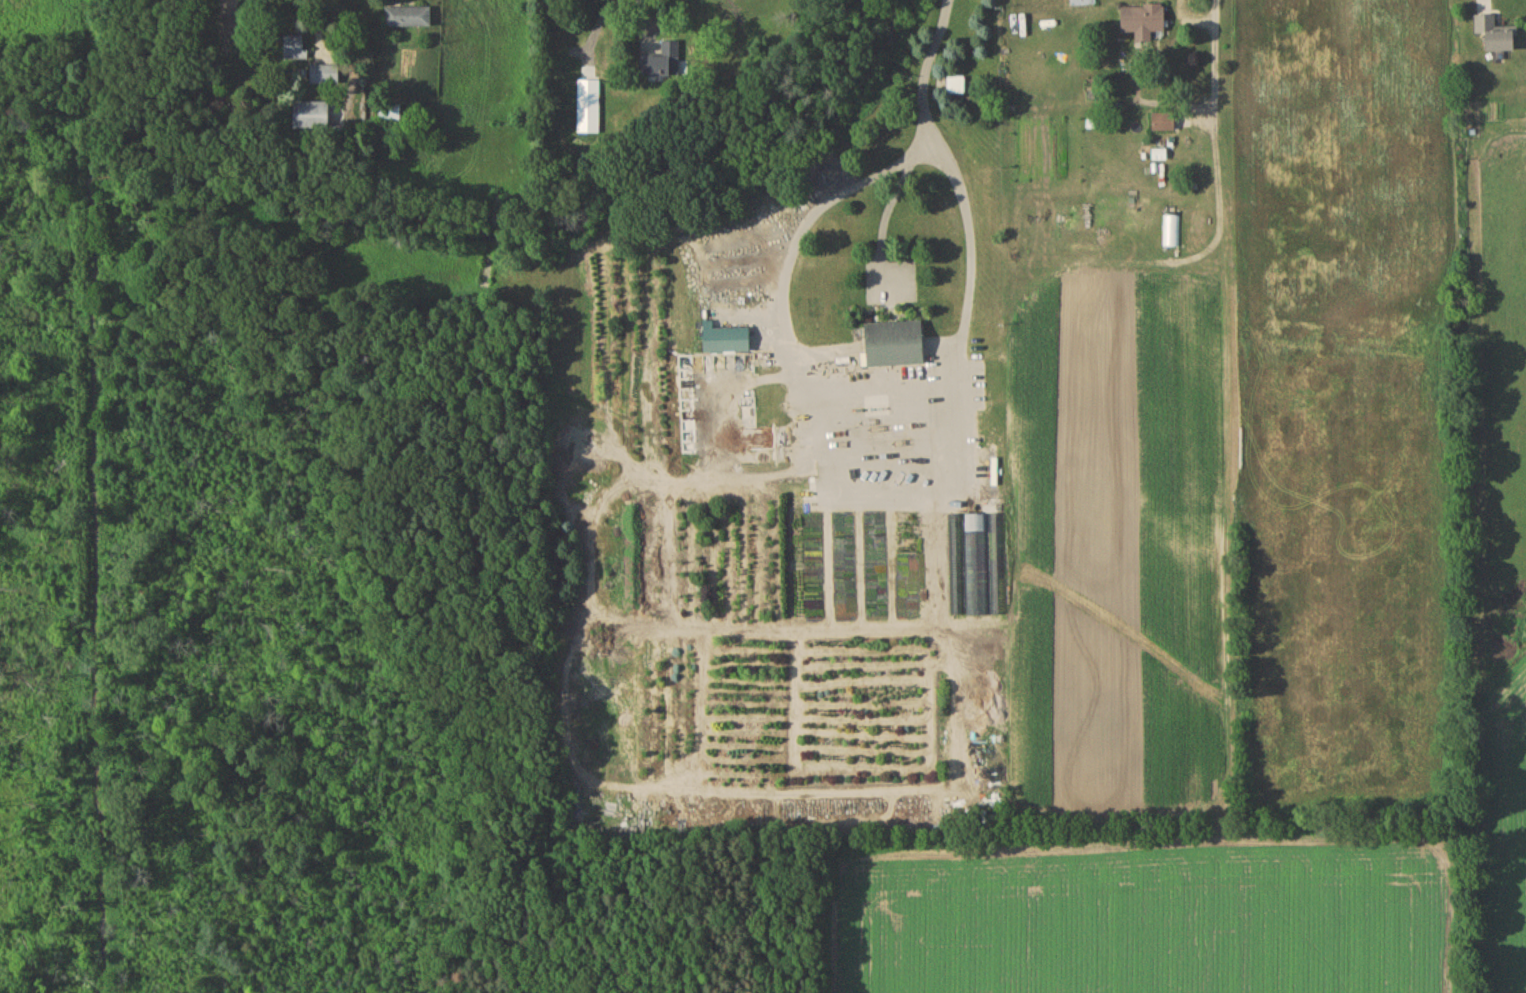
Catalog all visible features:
road: (1486, 5)
road: (644, 19)
building: (409, 20)
building: (1145, 24)
road: (322, 26)
building: (1499, 37)
building: (296, 50)
building: (666, 65)
road: (926, 68)
building: (327, 77)
building: (957, 88)
building: (589, 106)
building: (393, 116)
building: (314, 118)
building: (1165, 124)
road: (1217, 147)
road: (888, 215)
building: (1171, 233)
building: (728, 342)
building: (897, 347)
road: (854, 495)
building: (977, 567)

